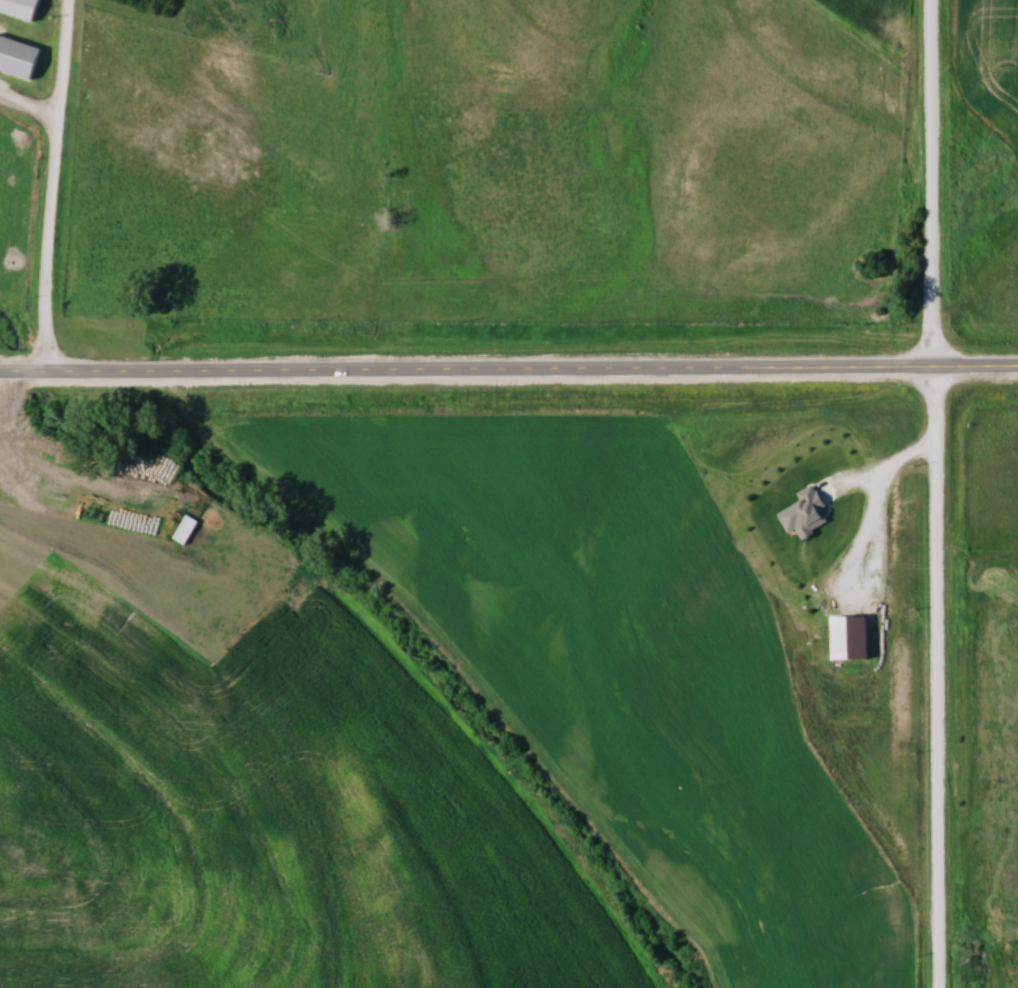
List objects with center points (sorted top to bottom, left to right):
road: (58, 183)
road: (509, 365)
road: (939, 493)
road: (876, 499)

